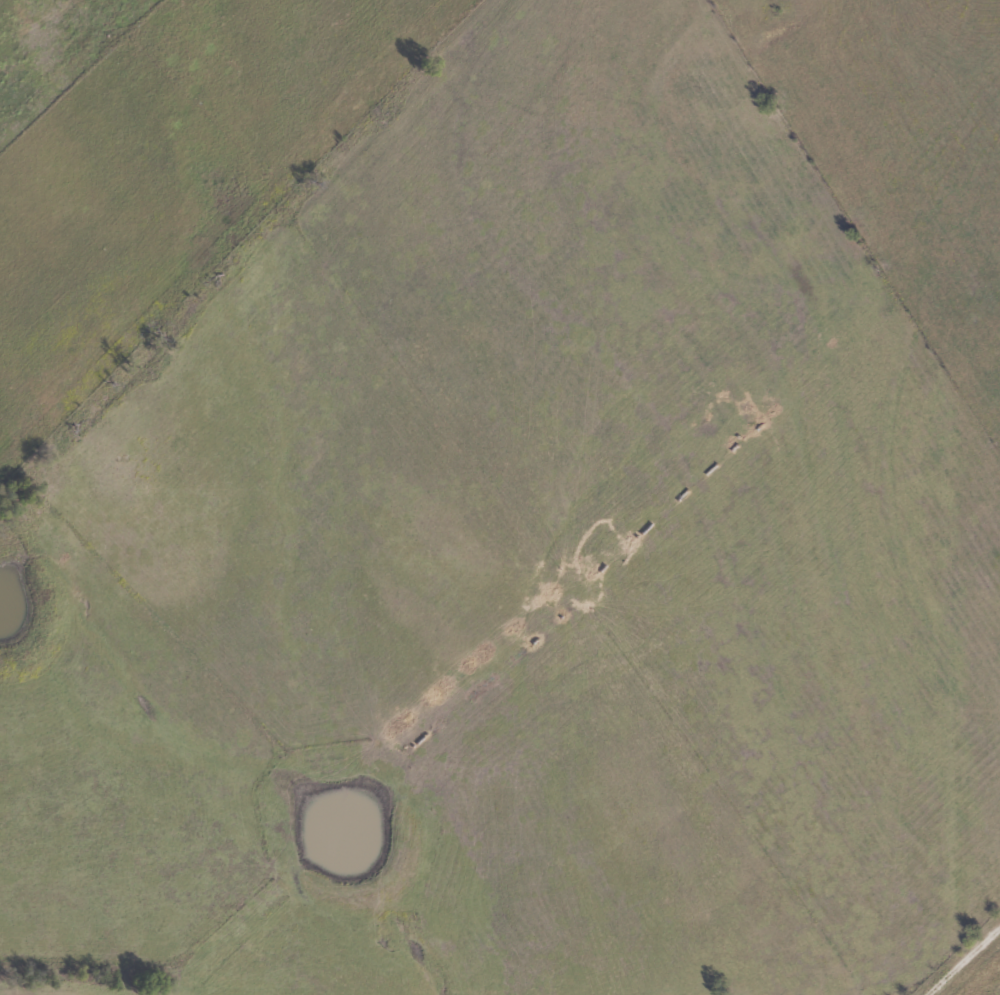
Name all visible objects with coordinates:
road: (969, 965)

